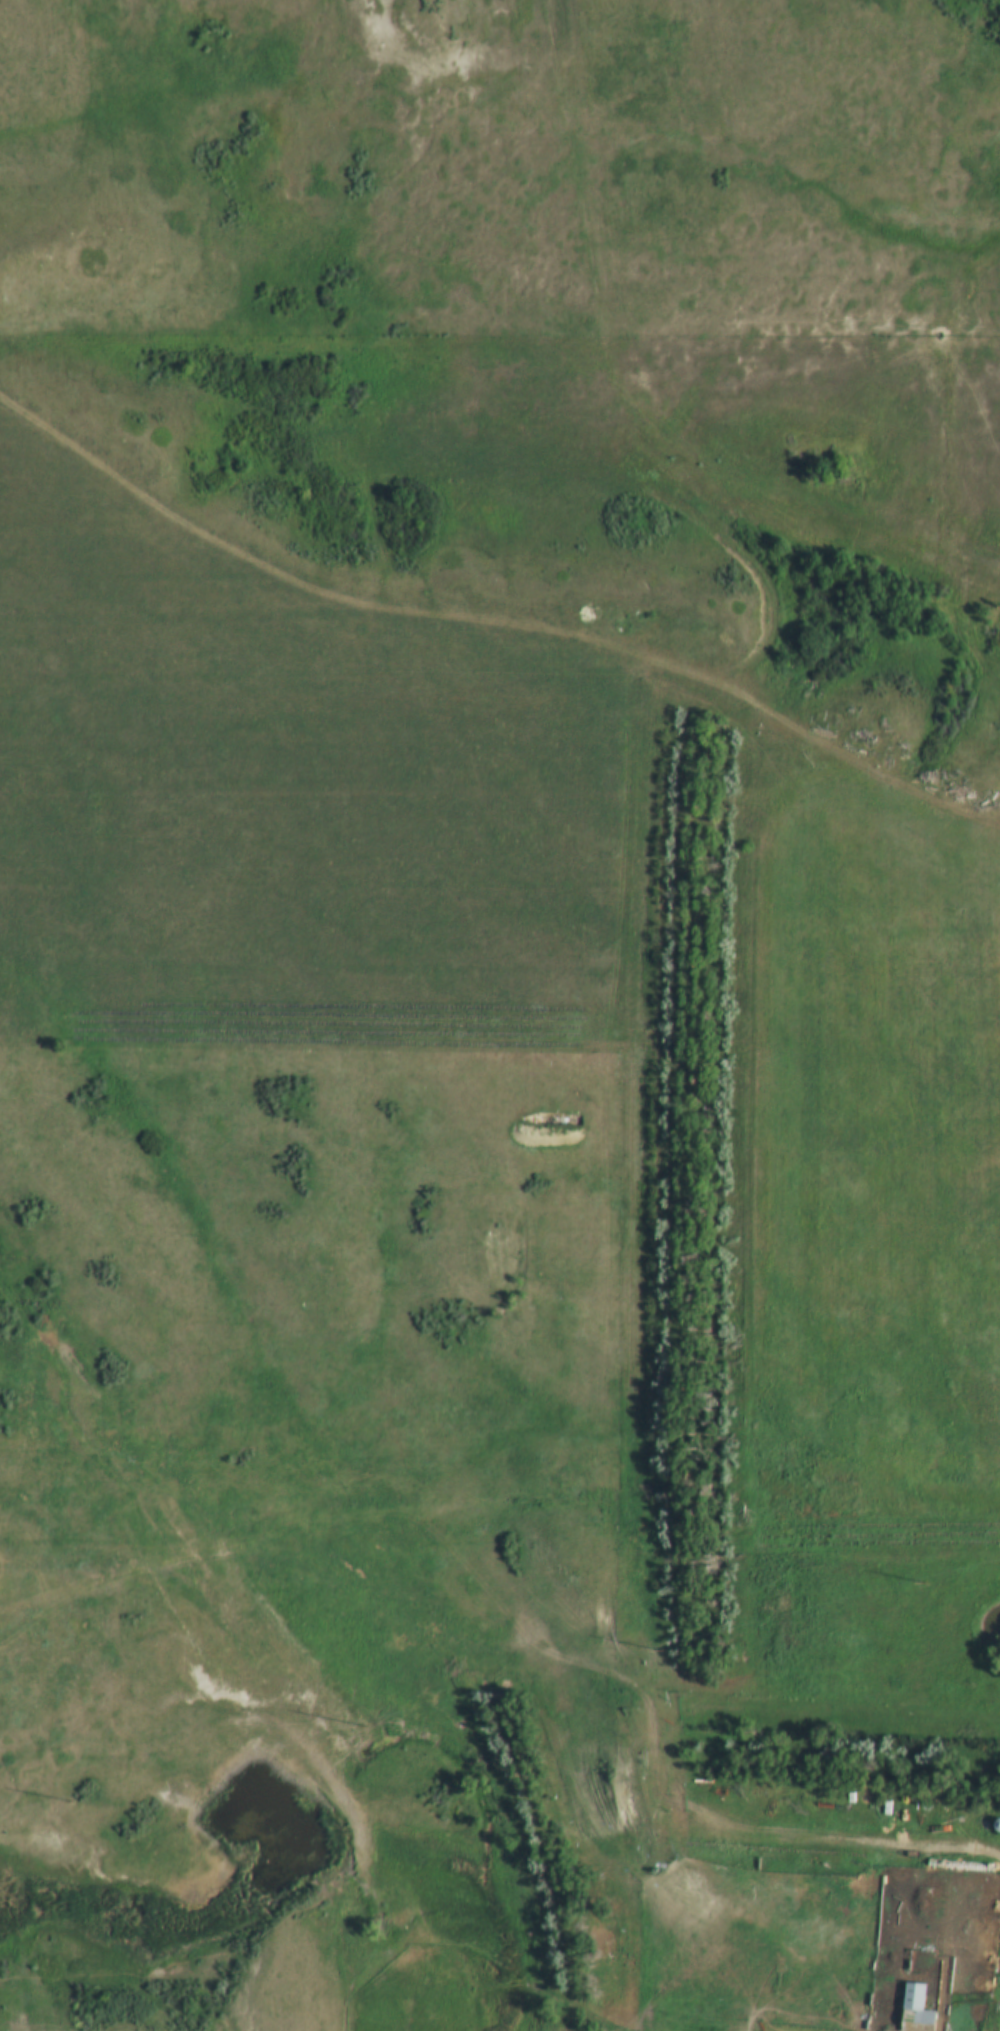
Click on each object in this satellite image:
road: (709, 1828)
building: (915, 2004)

